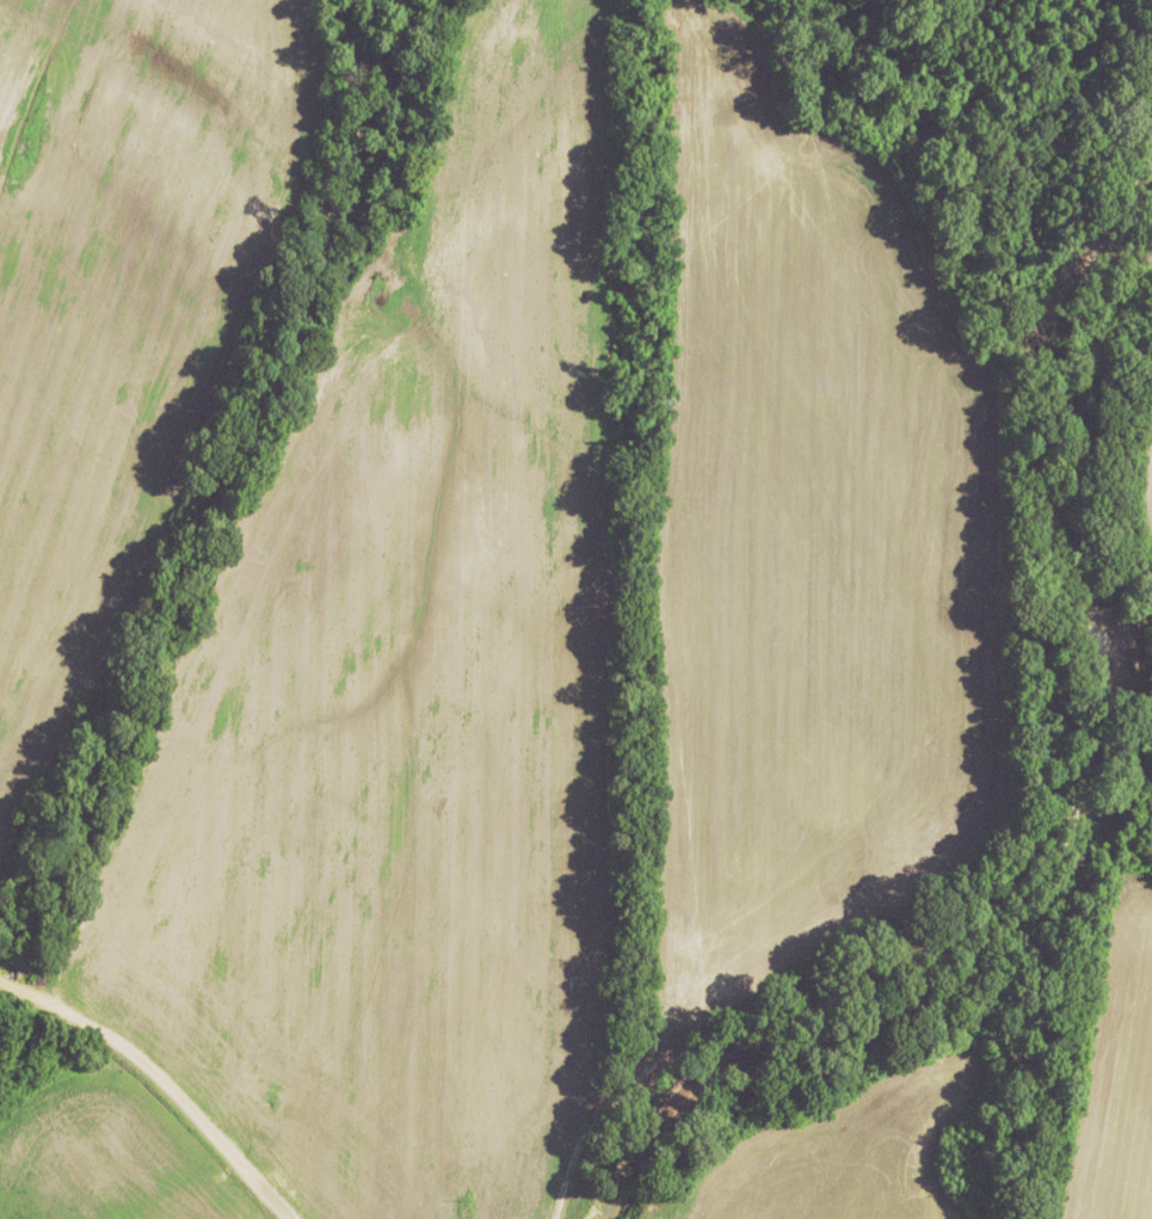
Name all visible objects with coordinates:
road: (159, 1081)

